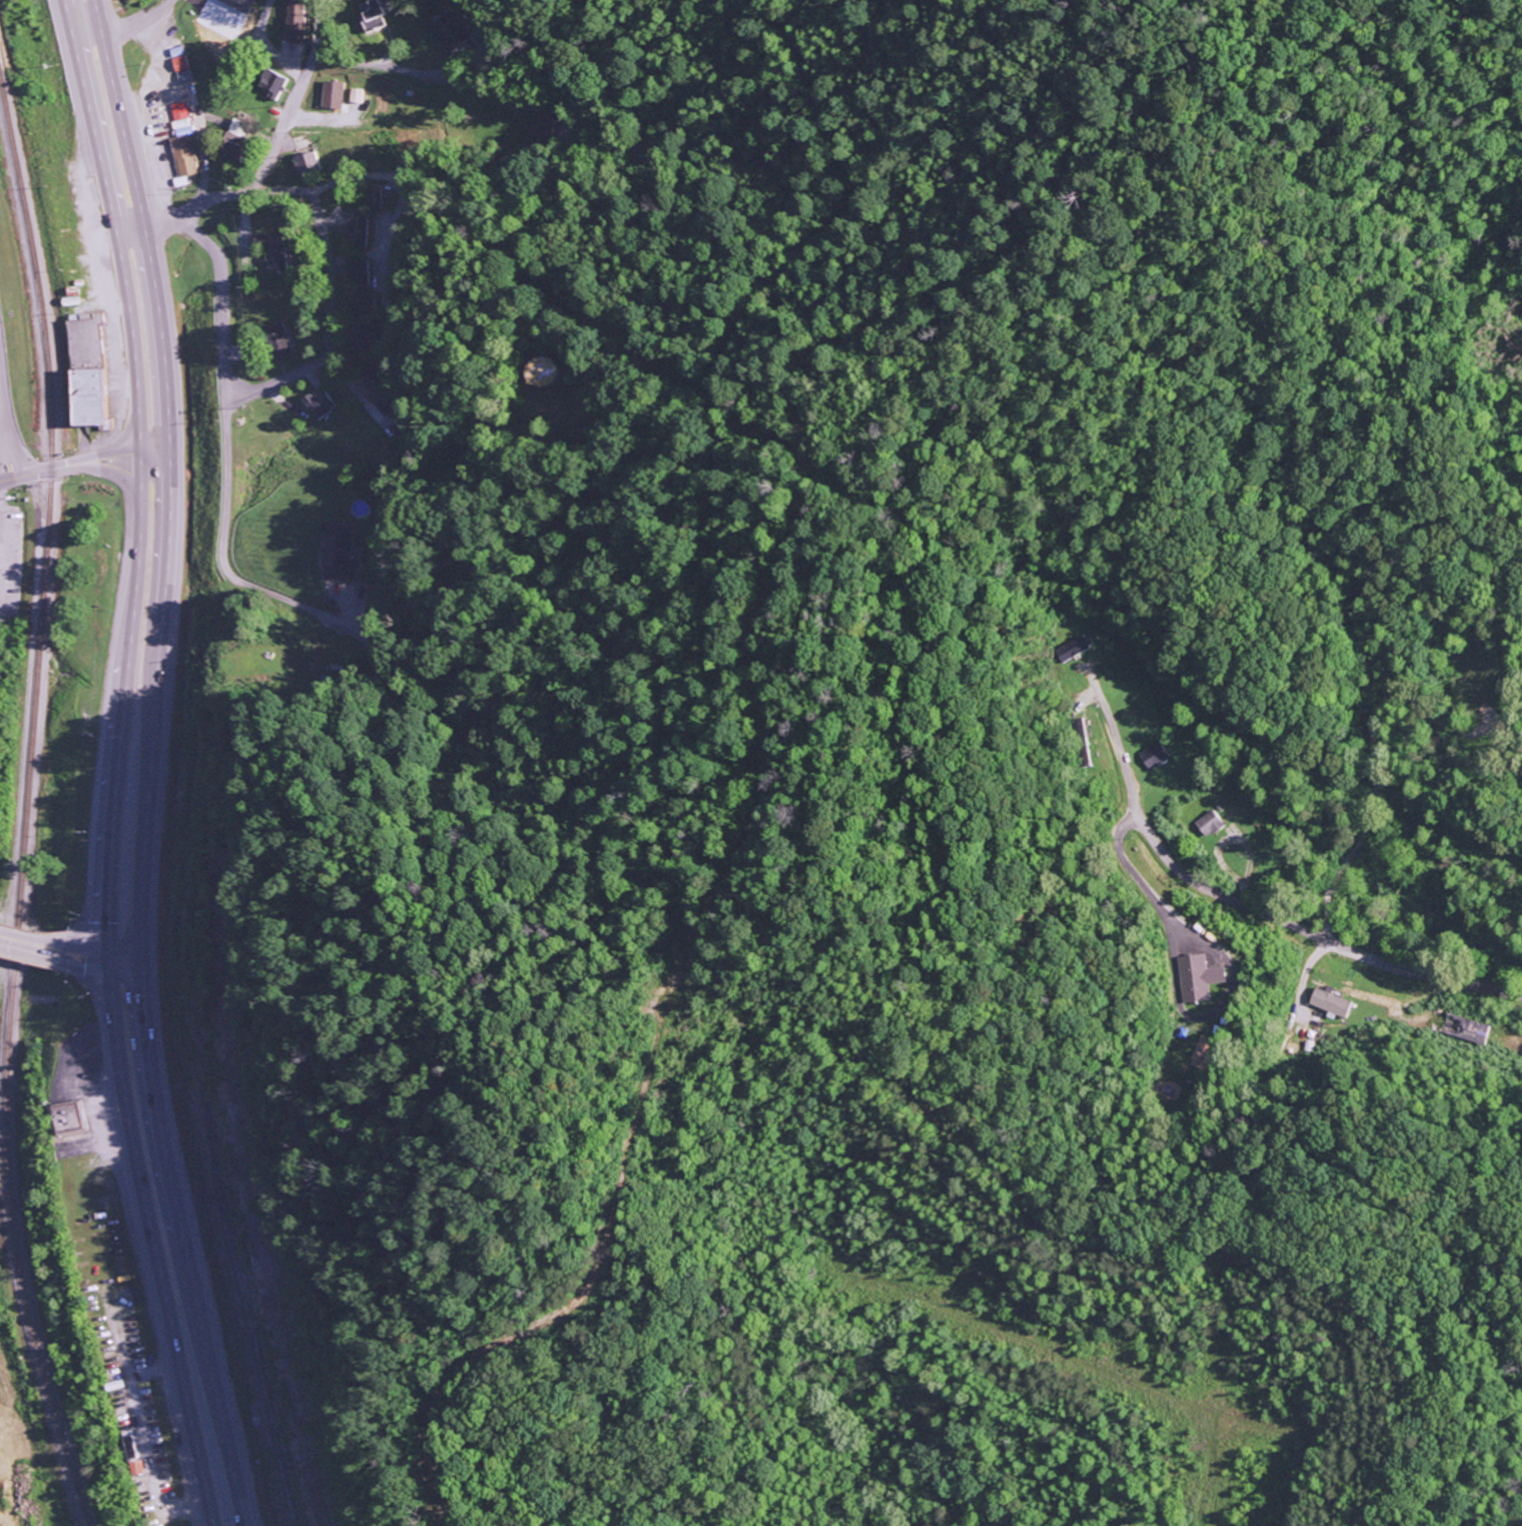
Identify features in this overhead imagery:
building: (224, 16)
building: (375, 16)
road: (137, 21)
building: (446, 33)
road: (87, 39)
building: (175, 51)
building: (179, 63)
building: (272, 84)
building: (331, 95)
building: (354, 95)
building: (180, 119)
building: (234, 139)
road: (531, 155)
building: (183, 156)
building: (306, 163)
road: (265, 164)
building: (372, 197)
building: (272, 251)
road: (329, 325)
building: (277, 340)
building: (85, 370)
building: (318, 404)
road: (228, 453)
road: (85, 462)
road: (135, 473)
road: (172, 475)
building: (336, 553)
building: (1067, 648)
road: (1110, 729)
road: (1370, 743)
building: (1150, 755)
building: (1208, 823)
railway: (23, 824)
road: (1195, 881)
road: (31, 937)
road: (97, 951)
traffic signals: (106, 953)
traffic signals: (133, 957)
road: (1422, 974)
building: (1197, 977)
building: (1328, 1002)
building: (1466, 1028)
building: (71, 1118)
road: (147, 1241)
road: (178, 1242)

